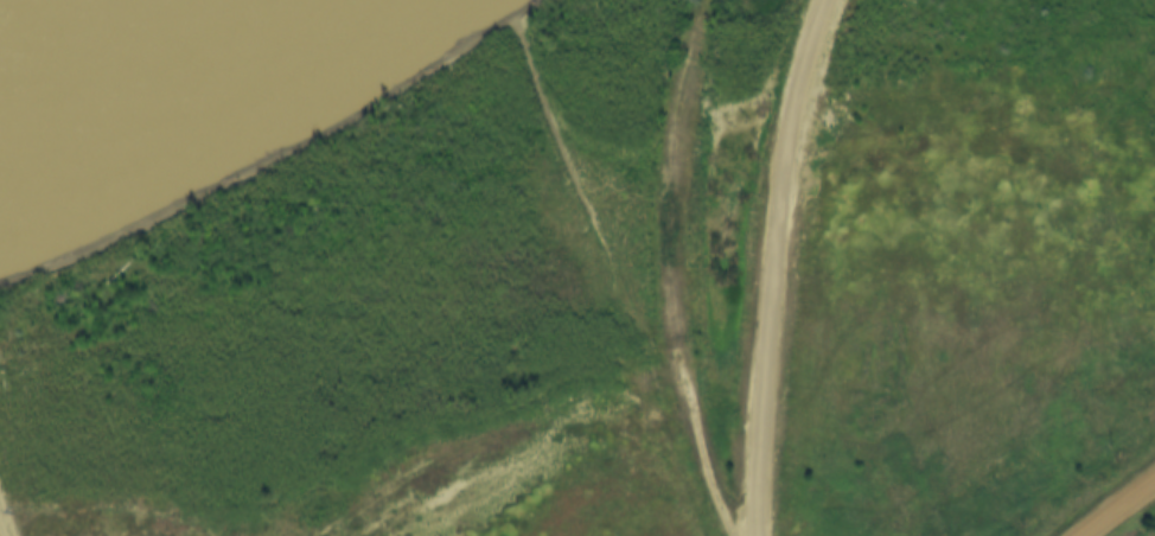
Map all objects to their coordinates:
road: (575, 199)
road: (771, 264)
road: (668, 270)
road: (328, 355)
road: (1116, 506)

